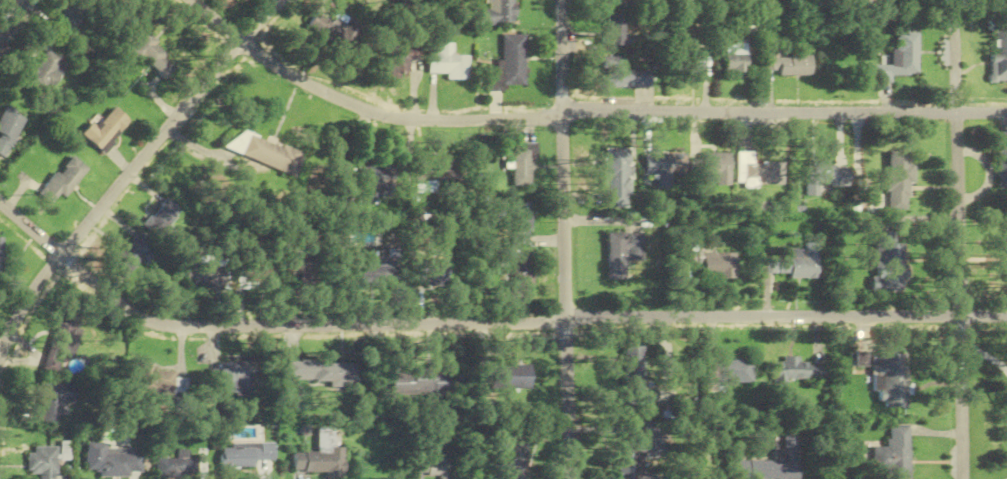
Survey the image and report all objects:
building: (496, 13)
road: (10, 17)
building: (68, 22)
building: (335, 28)
building: (619, 32)
building: (999, 50)
building: (154, 57)
building: (736, 58)
building: (901, 58)
building: (694, 61)
building: (450, 62)
building: (511, 63)
building: (402, 64)
building: (790, 66)
building: (47, 67)
building: (626, 75)
road: (363, 108)
road: (784, 111)
building: (9, 128)
building: (107, 130)
building: (268, 152)
building: (1002, 160)
building: (525, 165)
building: (716, 166)
road: (131, 170)
building: (665, 170)
building: (758, 171)
building: (376, 173)
building: (826, 176)
building: (617, 177)
building: (434, 179)
building: (899, 179)
building: (64, 180)
building: (167, 219)
building: (522, 223)
road: (565, 239)
road: (959, 239)
building: (623, 252)
building: (136, 253)
building: (1006, 256)
building: (0, 258)
building: (791, 260)
building: (888, 262)
building: (714, 263)
building: (301, 265)
building: (501, 267)
building: (256, 269)
building: (381, 272)
building: (433, 272)
building: (205, 273)
building: (524, 275)
road: (786, 318)
road: (262, 324)
building: (62, 336)
building: (734, 371)
building: (322, 372)
building: (795, 372)
building: (634, 374)
building: (887, 374)
building: (233, 376)
building: (507, 377)
building: (157, 380)
building: (421, 381)
building: (290, 397)
building: (54, 399)
building: (639, 452)
building: (893, 453)
building: (245, 454)
building: (321, 456)
building: (515, 459)
building: (106, 461)
building: (42, 462)
building: (773, 463)
building: (179, 465)
building: (432, 466)

